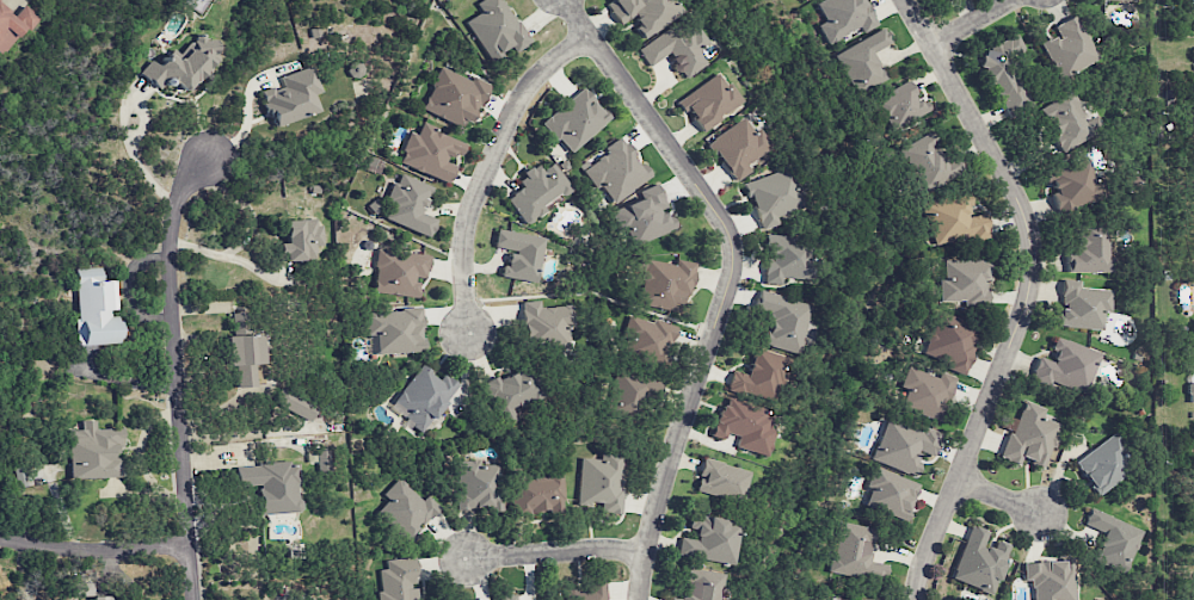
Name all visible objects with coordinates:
building: (943, 0)
building: (1118, 0)
building: (644, 13)
building: (844, 18)
building: (13, 24)
road: (977, 25)
building: (494, 27)
building: (1069, 48)
building: (677, 49)
building: (863, 61)
building: (183, 64)
building: (1004, 74)
building: (293, 97)
building: (453, 98)
building: (709, 100)
building: (899, 105)
road: (250, 117)
building: (574, 120)
building: (738, 148)
building: (430, 153)
road: (135, 161)
building: (928, 161)
road: (482, 167)
building: (616, 171)
building: (1072, 185)
building: (536, 191)
building: (775, 197)
building: (408, 203)
building: (645, 216)
building: (954, 221)
building: (300, 240)
building: (1089, 250)
building: (518, 254)
building: (786, 258)
building: (399, 272)
road: (730, 280)
building: (964, 282)
building: (663, 283)
road: (1033, 295)
building: (1083, 305)
building: (96, 311)
building: (238, 318)
building: (783, 321)
building: (544, 322)
building: (394, 330)
building: (646, 338)
building: (949, 341)
building: (244, 357)
building: (1067, 366)
road: (177, 371)
building: (1190, 375)
building: (761, 376)
building: (512, 392)
building: (925, 392)
building: (628, 394)
building: (423, 397)
building: (296, 403)
building: (745, 425)
building: (1028, 437)
building: (903, 445)
building: (93, 451)
building: (1104, 463)
building: (19, 477)
building: (722, 480)
building: (599, 482)
building: (272, 485)
building: (476, 485)
building: (534, 493)
building: (888, 493)
road: (997, 499)
building: (406, 509)
building: (1113, 539)
building: (710, 540)
road: (94, 546)
road: (555, 550)
building: (854, 552)
building: (979, 561)
building: (398, 580)
building: (1051, 580)
building: (702, 584)
building: (589, 592)
building: (507, 596)
building: (98, 598)
building: (872, 599)

